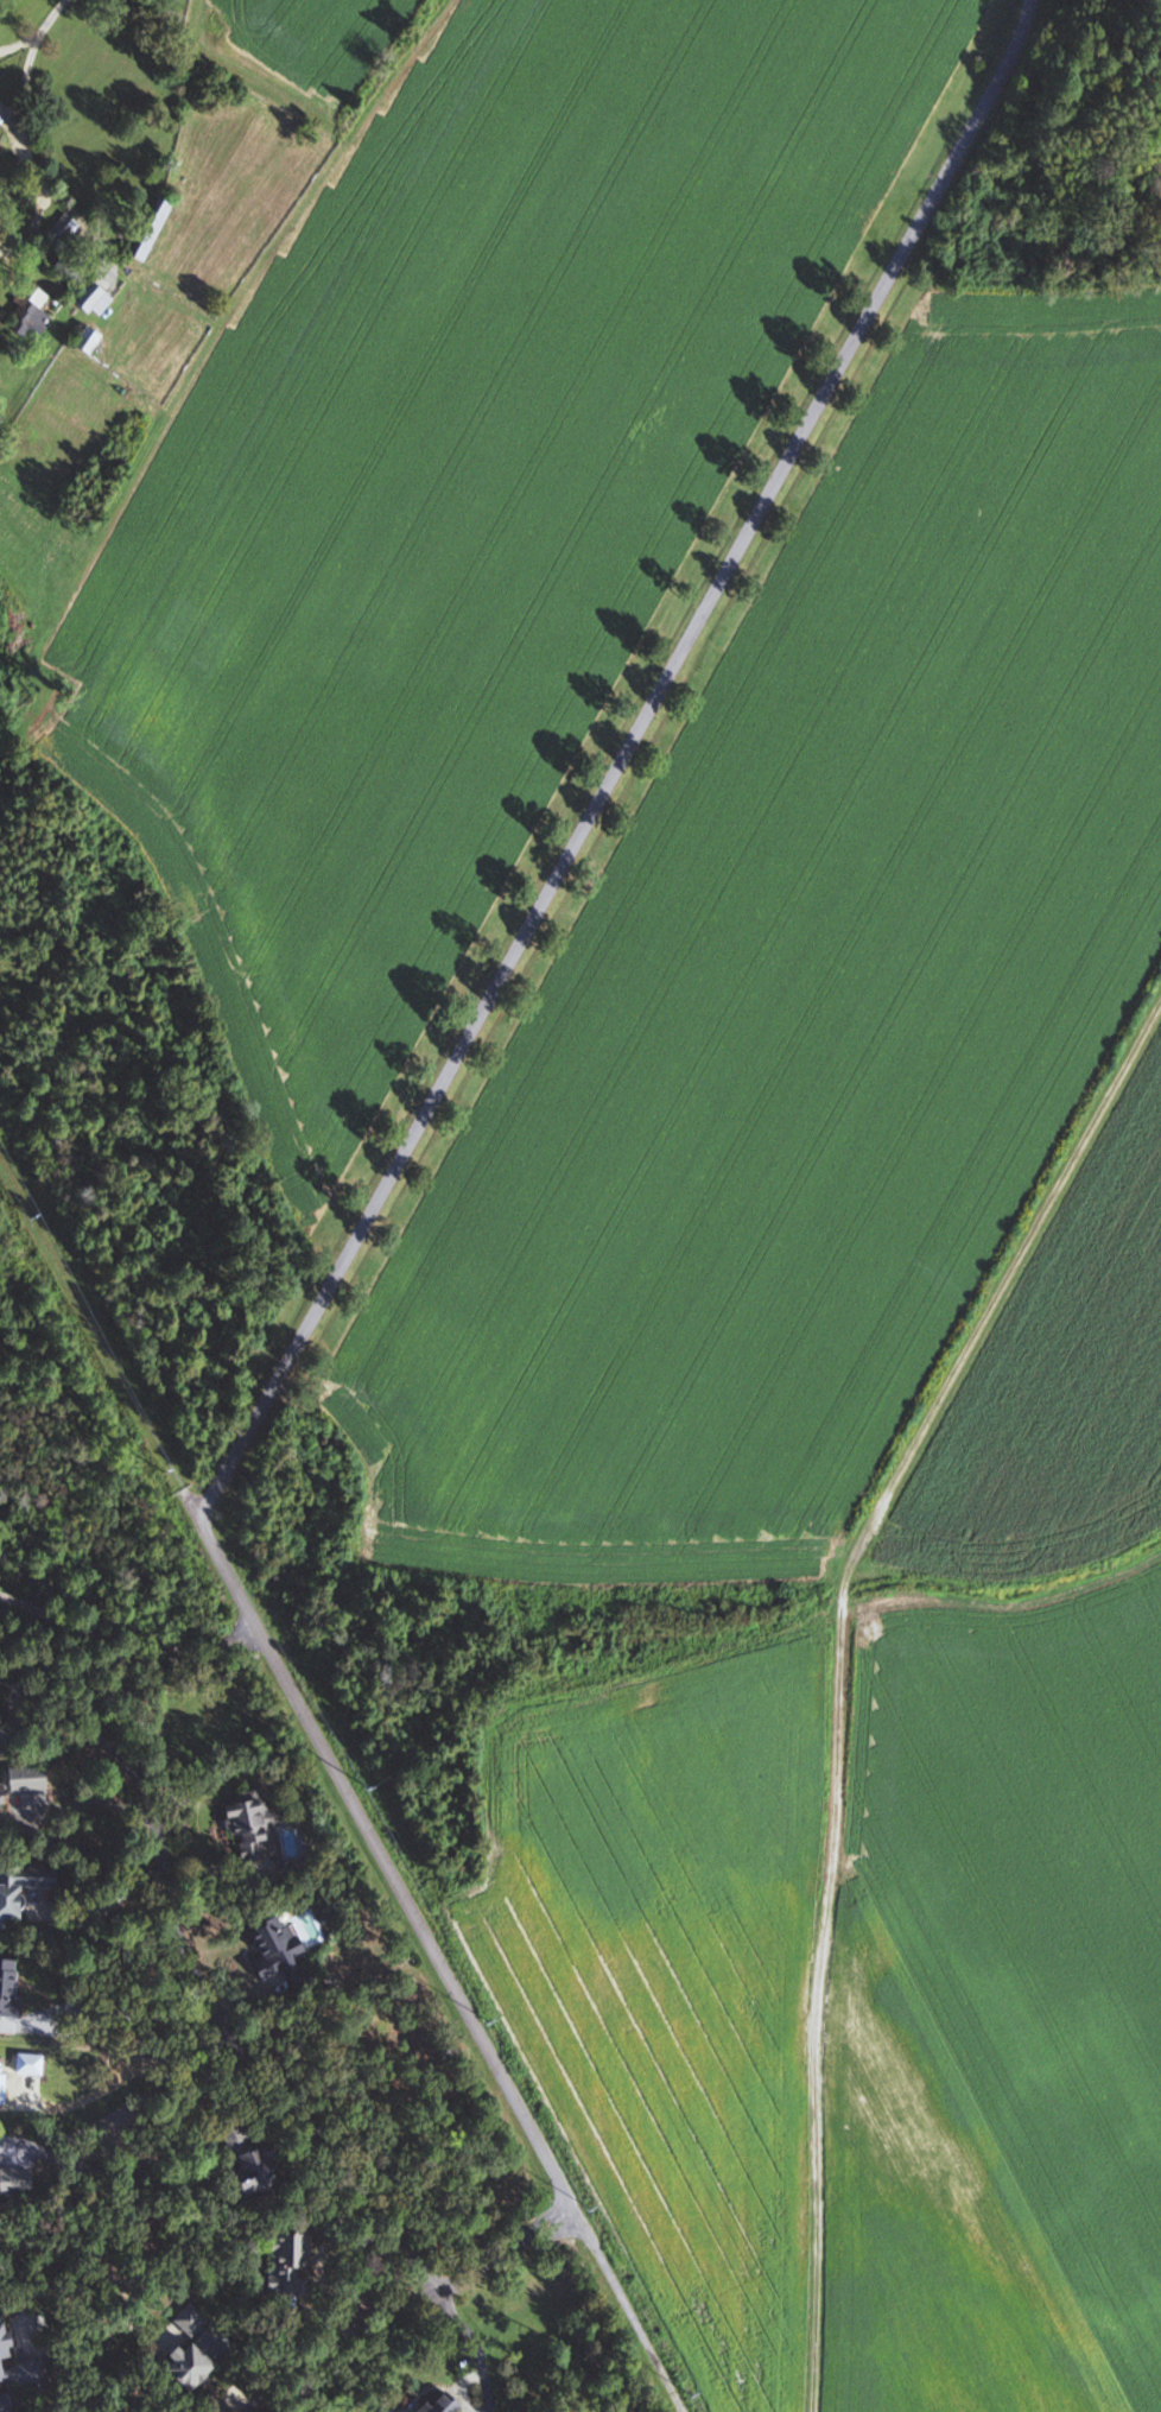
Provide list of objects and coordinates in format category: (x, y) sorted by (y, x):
road: (18, 40)
road: (32, 61)
road: (11, 124)
building: (0, 127)
building: (2, 171)
road: (64, 203)
building: (153, 229)
building: (89, 293)
building: (31, 312)
building: (90, 341)
road: (623, 764)
road: (128, 1627)
road: (82, 1632)
road: (839, 1666)
road: (34, 1676)
road: (123, 1702)
building: (1, 1717)
building: (17, 1787)
building: (254, 1825)
road: (385, 1861)
building: (23, 1889)
building: (278, 1946)
building: (11, 1989)
road: (243, 2052)
road: (72, 2166)
building: (259, 2173)
building: (17, 2180)
road: (135, 2192)
building: (291, 2265)
road: (407, 2307)
road: (626, 2309)
building: (6, 2335)
road: (476, 2347)
building: (201, 2349)
road: (286, 2392)
building: (446, 2404)
building: (634, 2411)

